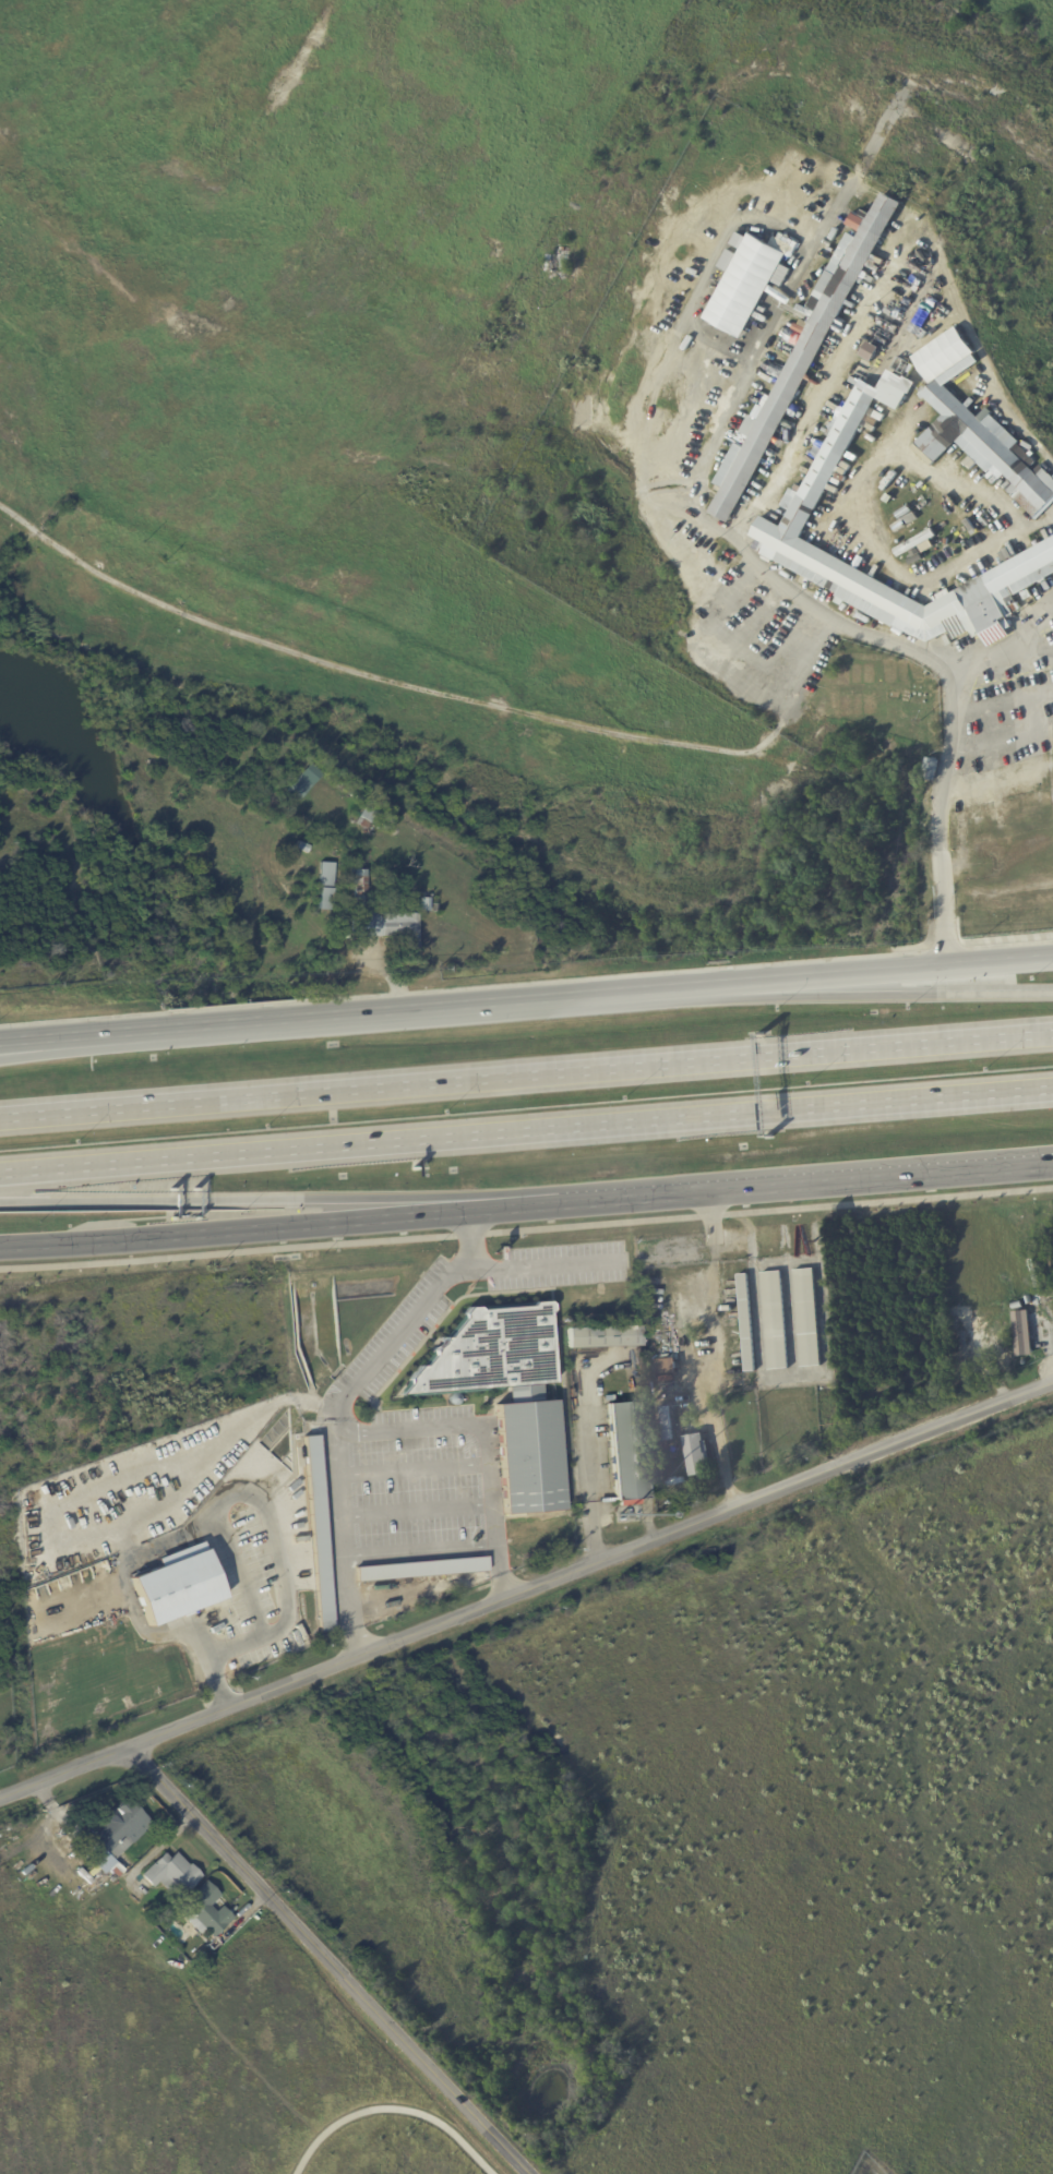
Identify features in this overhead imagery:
building: (560, 264)
building: (746, 281)
building: (871, 350)
building: (806, 352)
landfill: (559, 385)
building: (979, 427)
building: (802, 508)
building: (906, 513)
building: (907, 523)
building: (919, 544)
building: (931, 770)
building: (303, 783)
road: (938, 812)
building: (371, 815)
building: (352, 820)
building: (301, 849)
building: (324, 887)
building: (423, 905)
building: (347, 909)
building: (433, 909)
building: (380, 920)
road: (853, 994)
road: (526, 999)
road: (82, 1044)
road: (526, 1069)
road: (526, 1133)
road: (801, 1182)
road: (275, 1200)
road: (275, 1227)
road: (526, 1229)
road: (541, 1264)
building: (1034, 1274)
building: (1030, 1299)
road: (416, 1313)
building: (807, 1318)
building: (776, 1320)
building: (746, 1322)
building: (1022, 1330)
building: (601, 1337)
road: (714, 1348)
building: (666, 1366)
building: (667, 1378)
building: (667, 1422)
road: (406, 1427)
road: (483, 1443)
road: (198, 1450)
building: (626, 1453)
building: (697, 1454)
building: (529, 1457)
road: (588, 1465)
road: (410, 1466)
road: (487, 1501)
road: (336, 1508)
road: (412, 1509)
road: (264, 1514)
building: (318, 1536)
road: (417, 1547)
road: (493, 1558)
building: (422, 1570)
building: (176, 1586)
road: (496, 1587)
road: (526, 1587)
road: (351, 1633)
road: (205, 1670)
building: (117, 1830)
building: (170, 1875)
building: (204, 1911)
building: (213, 1945)
road: (333, 1959)
road: (392, 2105)

